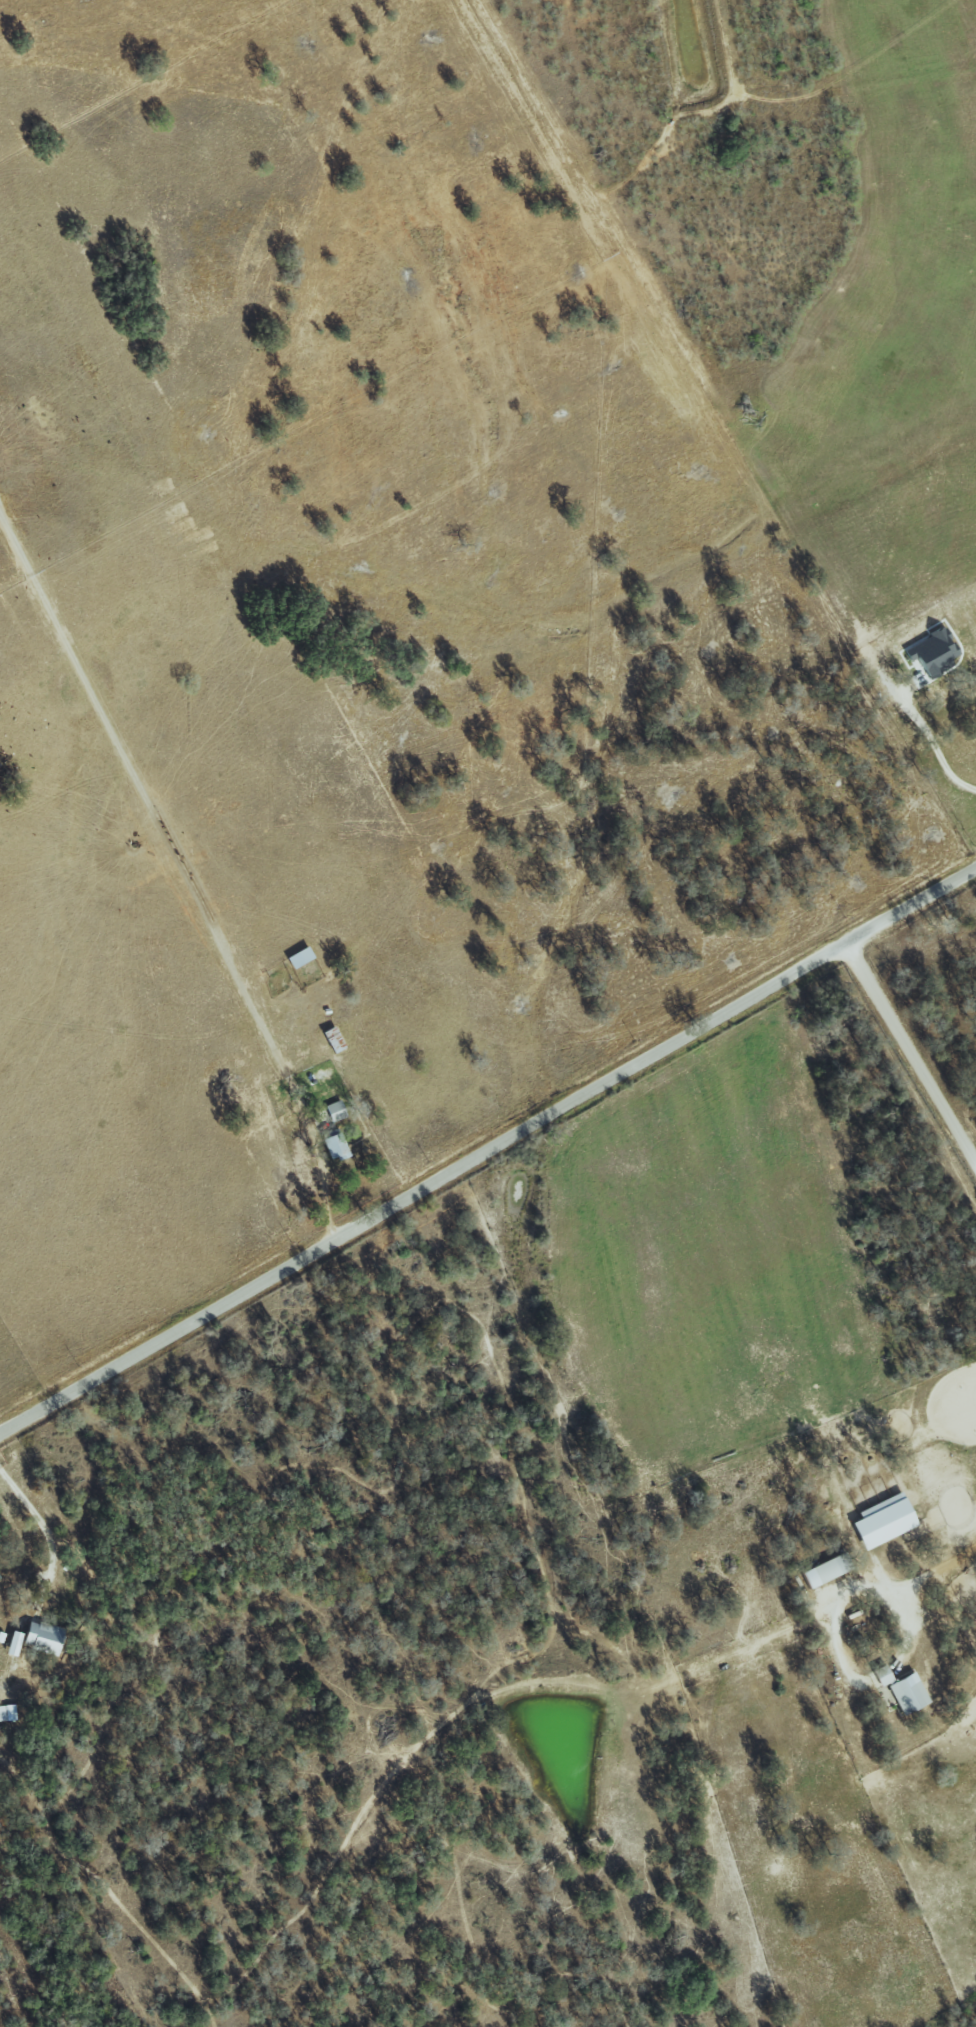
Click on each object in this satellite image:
building: (925, 654)
road: (930, 740)
building: (295, 957)
road: (912, 1047)
building: (332, 1111)
building: (331, 1144)
road: (487, 1147)
building: (875, 1521)
road: (46, 1534)
road: (942, 1571)
building: (816, 1572)
building: (39, 1637)
building: (11, 1643)
building: (875, 1676)
building: (901, 1693)
building: (7, 1713)

